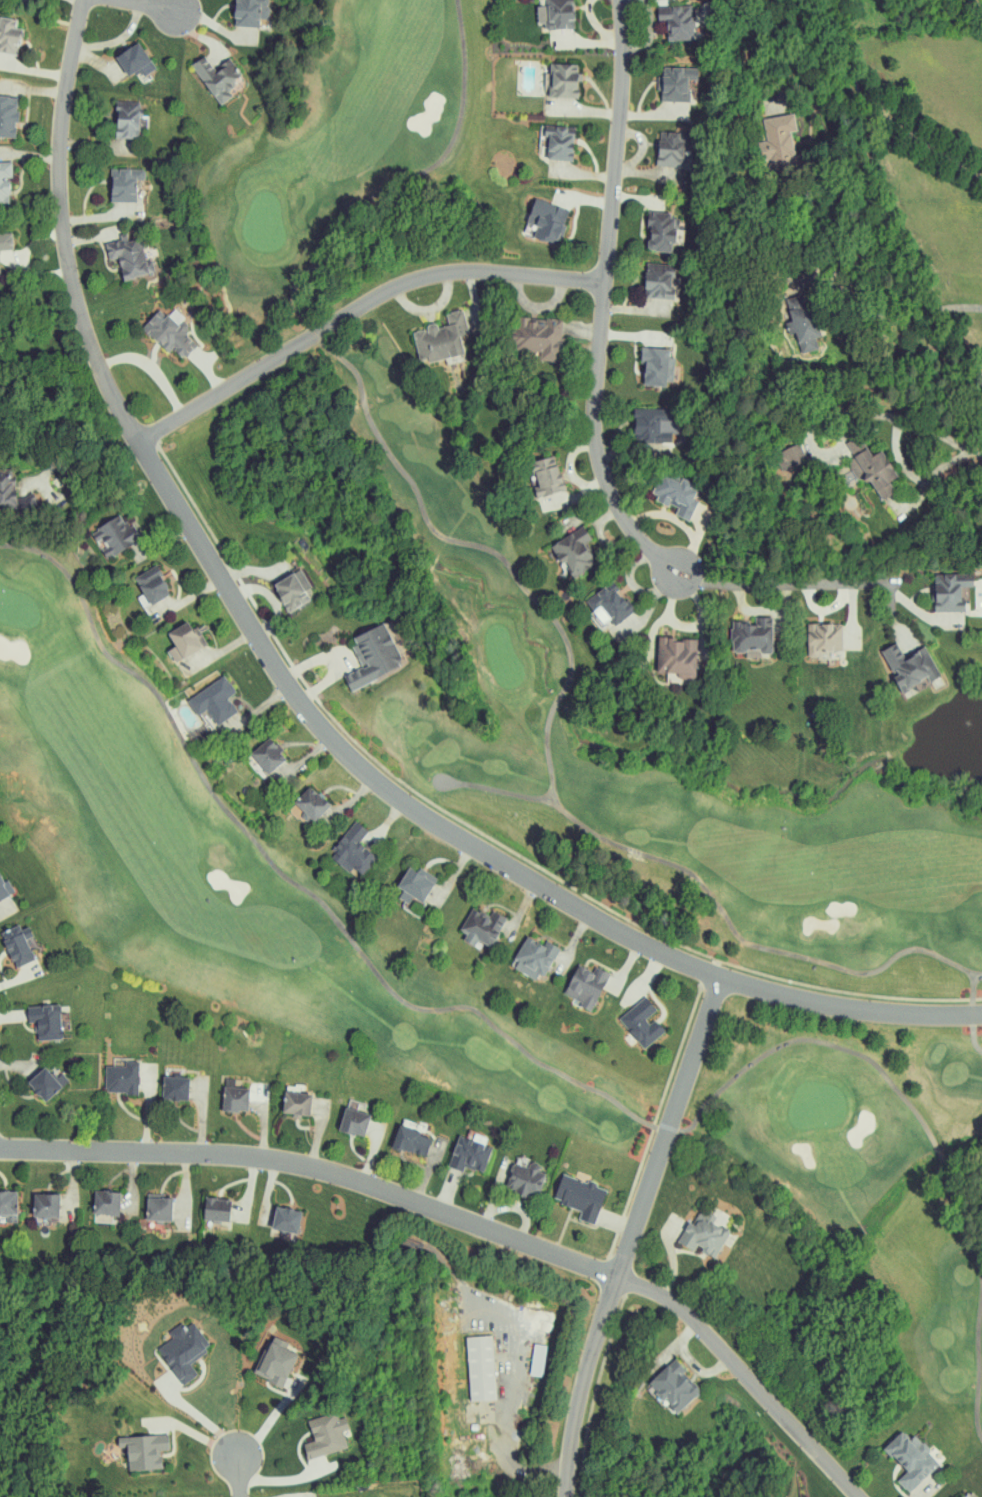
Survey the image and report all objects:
road: (146, 4)
road: (178, 5)
building: (249, 12)
building: (555, 14)
park: (853, 15)
building: (679, 22)
road: (212, 24)
road: (196, 34)
building: (8, 36)
road: (93, 46)
building: (134, 60)
road: (34, 69)
building: (217, 77)
building: (563, 81)
building: (676, 84)
road: (33, 90)
building: (7, 116)
building: (126, 120)
road: (893, 128)
building: (778, 136)
building: (559, 141)
road: (97, 145)
building: (671, 148)
road: (29, 155)
building: (4, 183)
building: (124, 184)
road: (98, 216)
building: (547, 221)
building: (660, 232)
road: (95, 236)
building: (5, 241)
road: (35, 241)
building: (128, 256)
road: (34, 271)
road: (474, 298)
road: (601, 299)
road: (537, 306)
road: (356, 308)
road: (428, 309)
road: (884, 320)
building: (802, 322)
building: (169, 332)
building: (537, 338)
building: (440, 339)
building: (656, 366)
road: (149, 368)
road: (207, 373)
road: (922, 425)
building: (650, 428)
road: (814, 445)
building: (791, 456)
road: (80, 459)
building: (873, 472)
road: (914, 475)
building: (548, 484)
building: (675, 496)
road: (919, 498)
building: (114, 533)
road: (162, 542)
building: (573, 552)
road: (252, 571)
building: (151, 583)
building: (292, 588)
building: (950, 592)
road: (188, 598)
road: (273, 600)
building: (612, 602)
building: (752, 638)
building: (182, 640)
building: (823, 641)
road: (221, 651)
building: (372, 654)
road: (340, 655)
building: (676, 657)
building: (910, 668)
building: (214, 699)
road: (303, 703)
road: (256, 712)
building: (267, 754)
road: (308, 757)
park: (518, 773)
building: (310, 802)
road: (349, 802)
road: (386, 822)
building: (353, 849)
road: (453, 875)
building: (413, 884)
road: (522, 909)
building: (481, 926)
road: (574, 941)
building: (18, 944)
building: (534, 957)
road: (627, 966)
road: (645, 979)
building: (586, 984)
building: (44, 1020)
building: (641, 1022)
building: (122, 1077)
building: (46, 1081)
building: (174, 1084)
building: (234, 1094)
building: (296, 1102)
building: (354, 1118)
building: (411, 1141)
road: (315, 1144)
building: (468, 1154)
road: (370, 1160)
road: (317, 1166)
road: (76, 1172)
building: (522, 1177)
building: (580, 1197)
building: (7, 1202)
building: (105, 1202)
building: (44, 1205)
building: (159, 1206)
building: (215, 1208)
building: (285, 1222)
building: (703, 1232)
road: (631, 1234)
building: (183, 1350)
building: (274, 1363)
building: (480, 1368)
road: (519, 1368)
road: (745, 1376)
building: (674, 1386)
road: (272, 1418)
road: (205, 1419)
road: (193, 1431)
building: (325, 1435)
building: (145, 1451)
building: (911, 1459)
road: (239, 1474)
road: (287, 1477)
building: (964, 1496)

